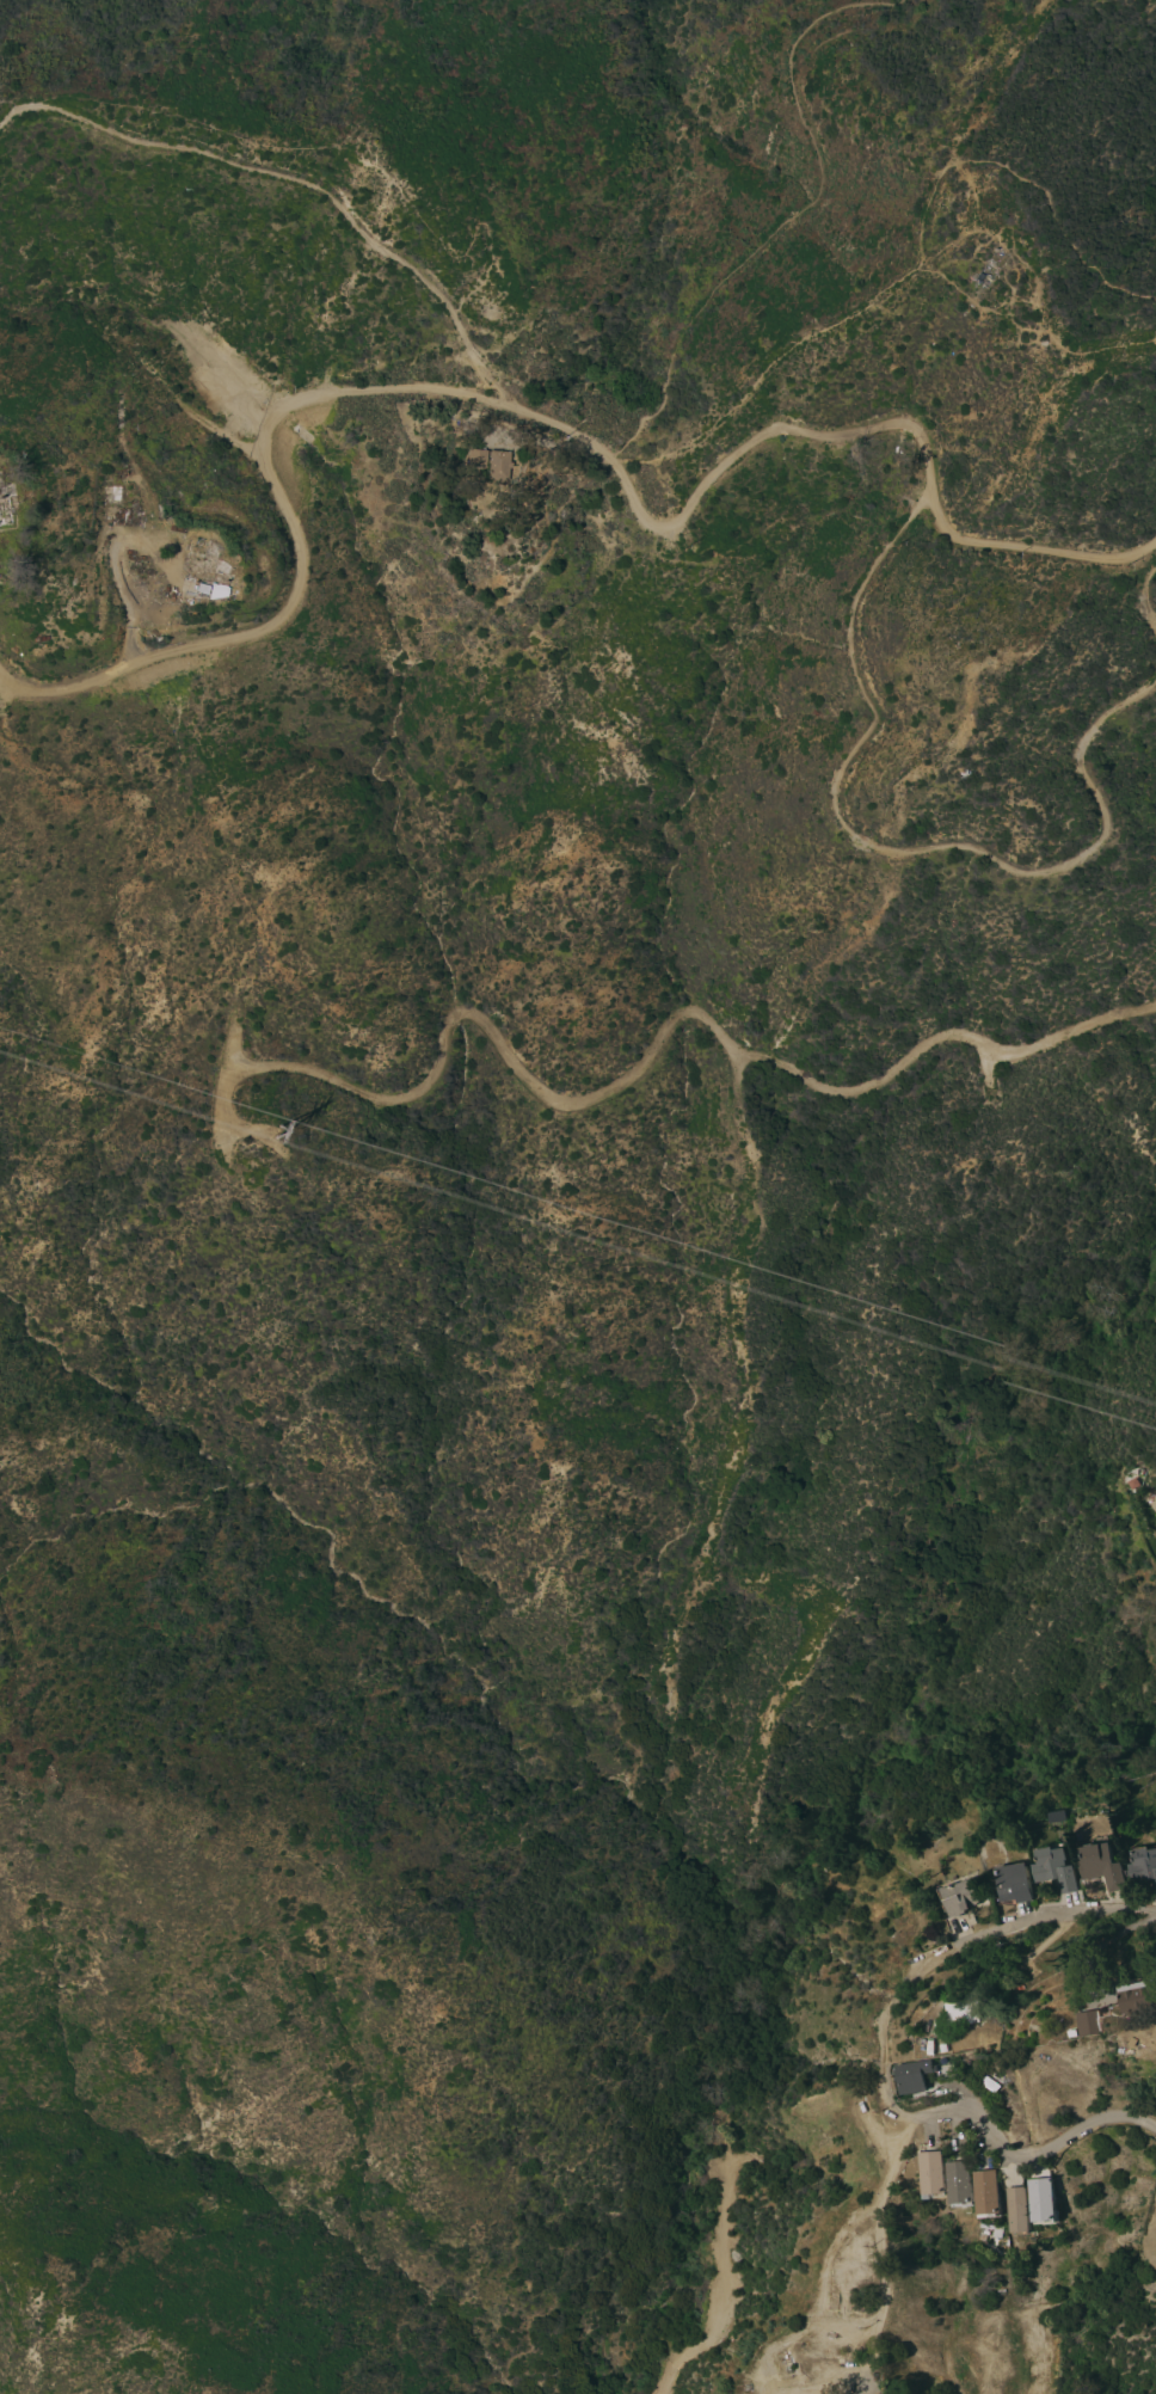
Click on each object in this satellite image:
road: (788, 62)
park: (272, 68)
road: (344, 153)
road: (299, 178)
road: (916, 259)
road: (696, 317)
road: (539, 417)
building: (475, 458)
building: (498, 465)
building: (121, 473)
building: (110, 495)
building: (5, 499)
building: (140, 516)
building: (208, 566)
road: (113, 567)
road: (1142, 596)
road: (885, 847)
road: (659, 1037)
road: (221, 1076)
power tower: (270, 1119)
building: (1152, 1499)
building: (1143, 1865)
building: (1102, 1866)
building: (1056, 1868)
building: (1014, 1883)
building: (960, 1897)
road: (1039, 1916)
building: (1140, 1996)
building: (972, 2013)
building: (1095, 2022)
road: (888, 2046)
building: (996, 2048)
building: (924, 2075)
road: (1038, 2157)
road: (904, 2162)
building: (940, 2174)
building: (967, 2184)
building: (994, 2193)
building: (1046, 2200)
building: (1023, 2210)
building: (985, 2236)
road: (722, 2288)
road: (825, 2302)
road: (887, 2320)
road: (761, 2382)

